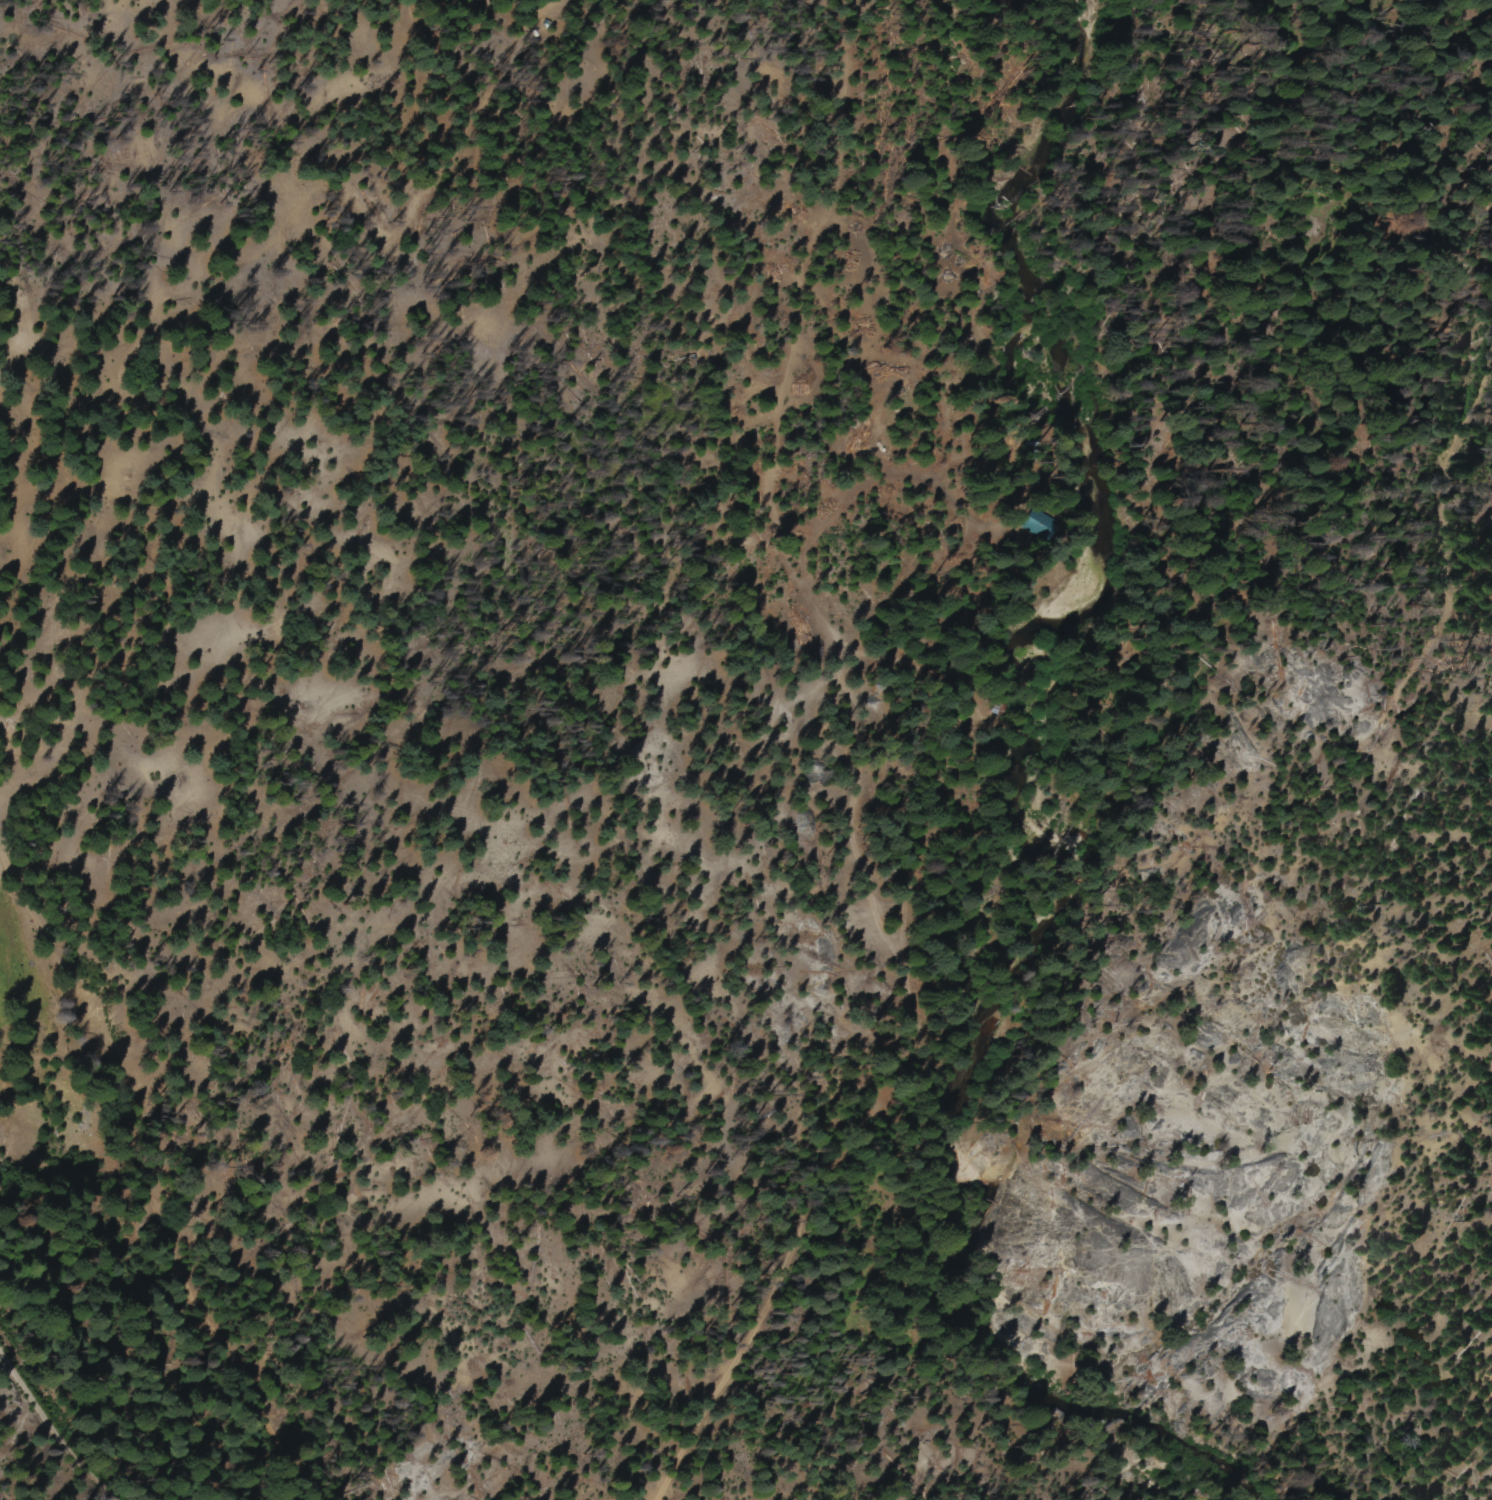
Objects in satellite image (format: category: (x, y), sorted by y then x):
road: (1443, 526)
road: (843, 771)
road: (146, 1162)
road: (56, 1428)

